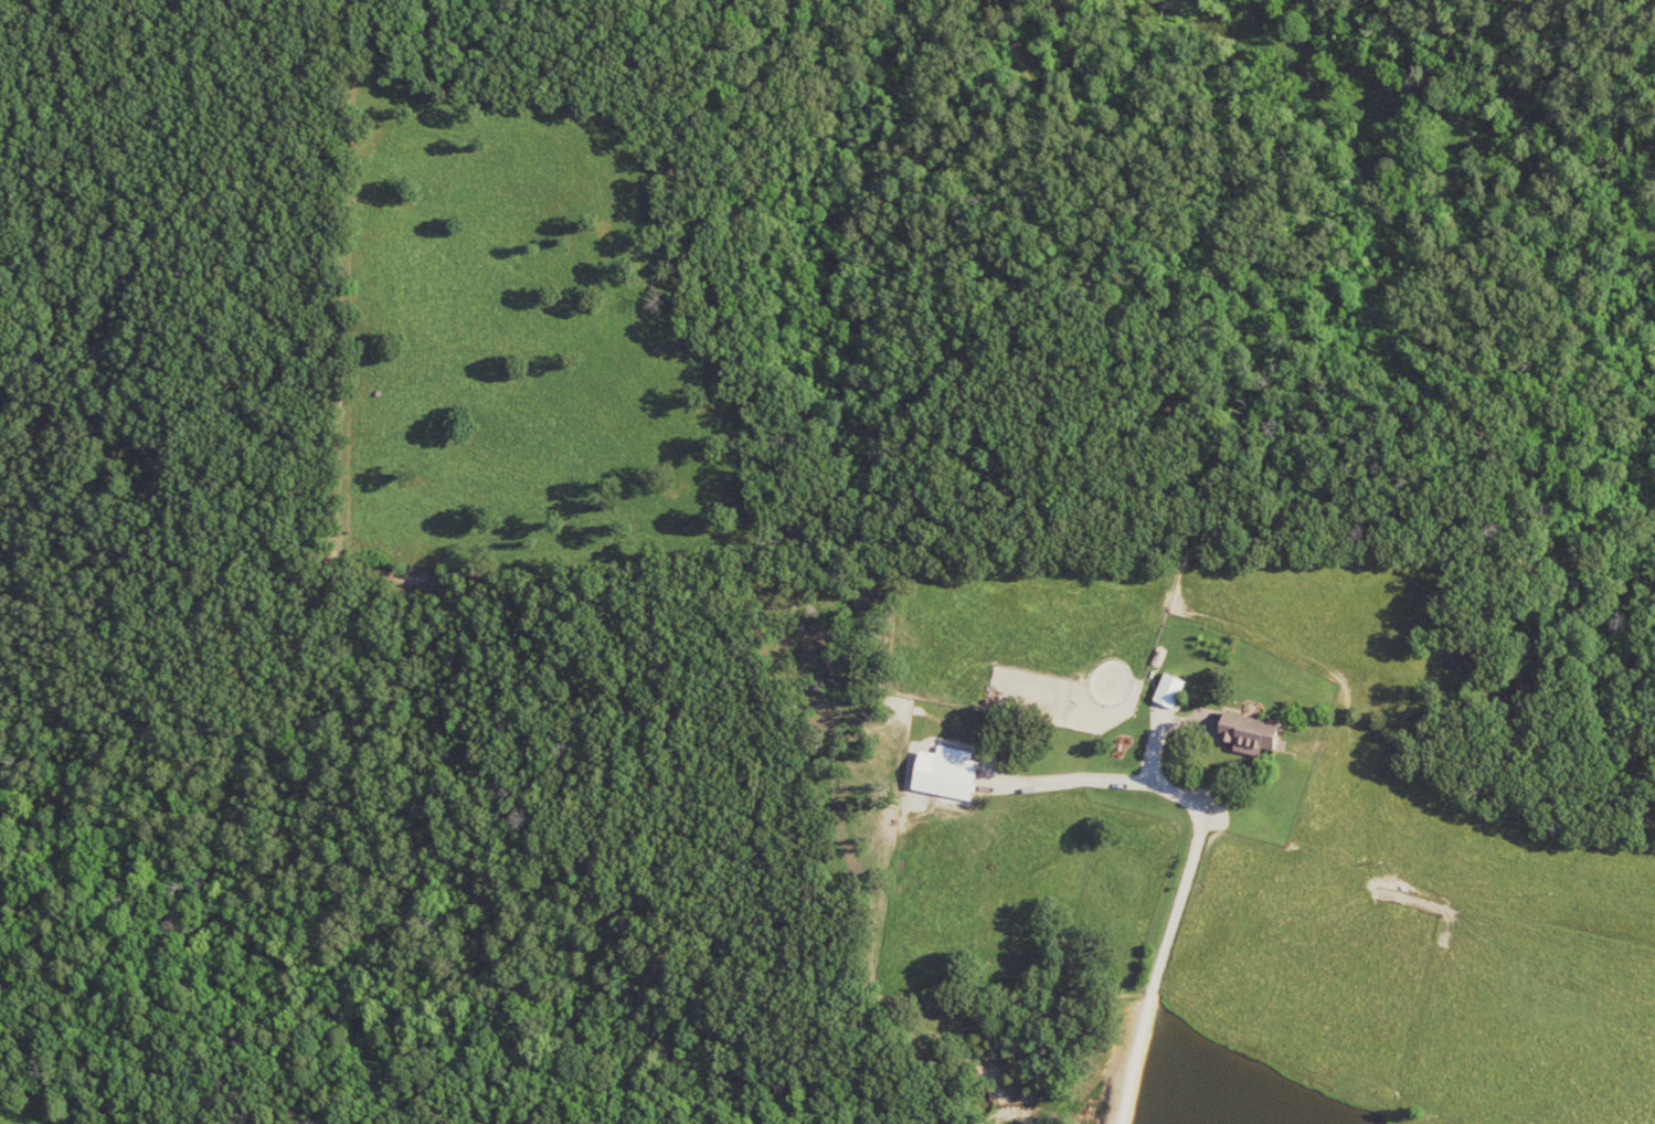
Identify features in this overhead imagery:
building: (1177, 690)
building: (1258, 734)
building: (954, 773)
road: (1191, 855)

